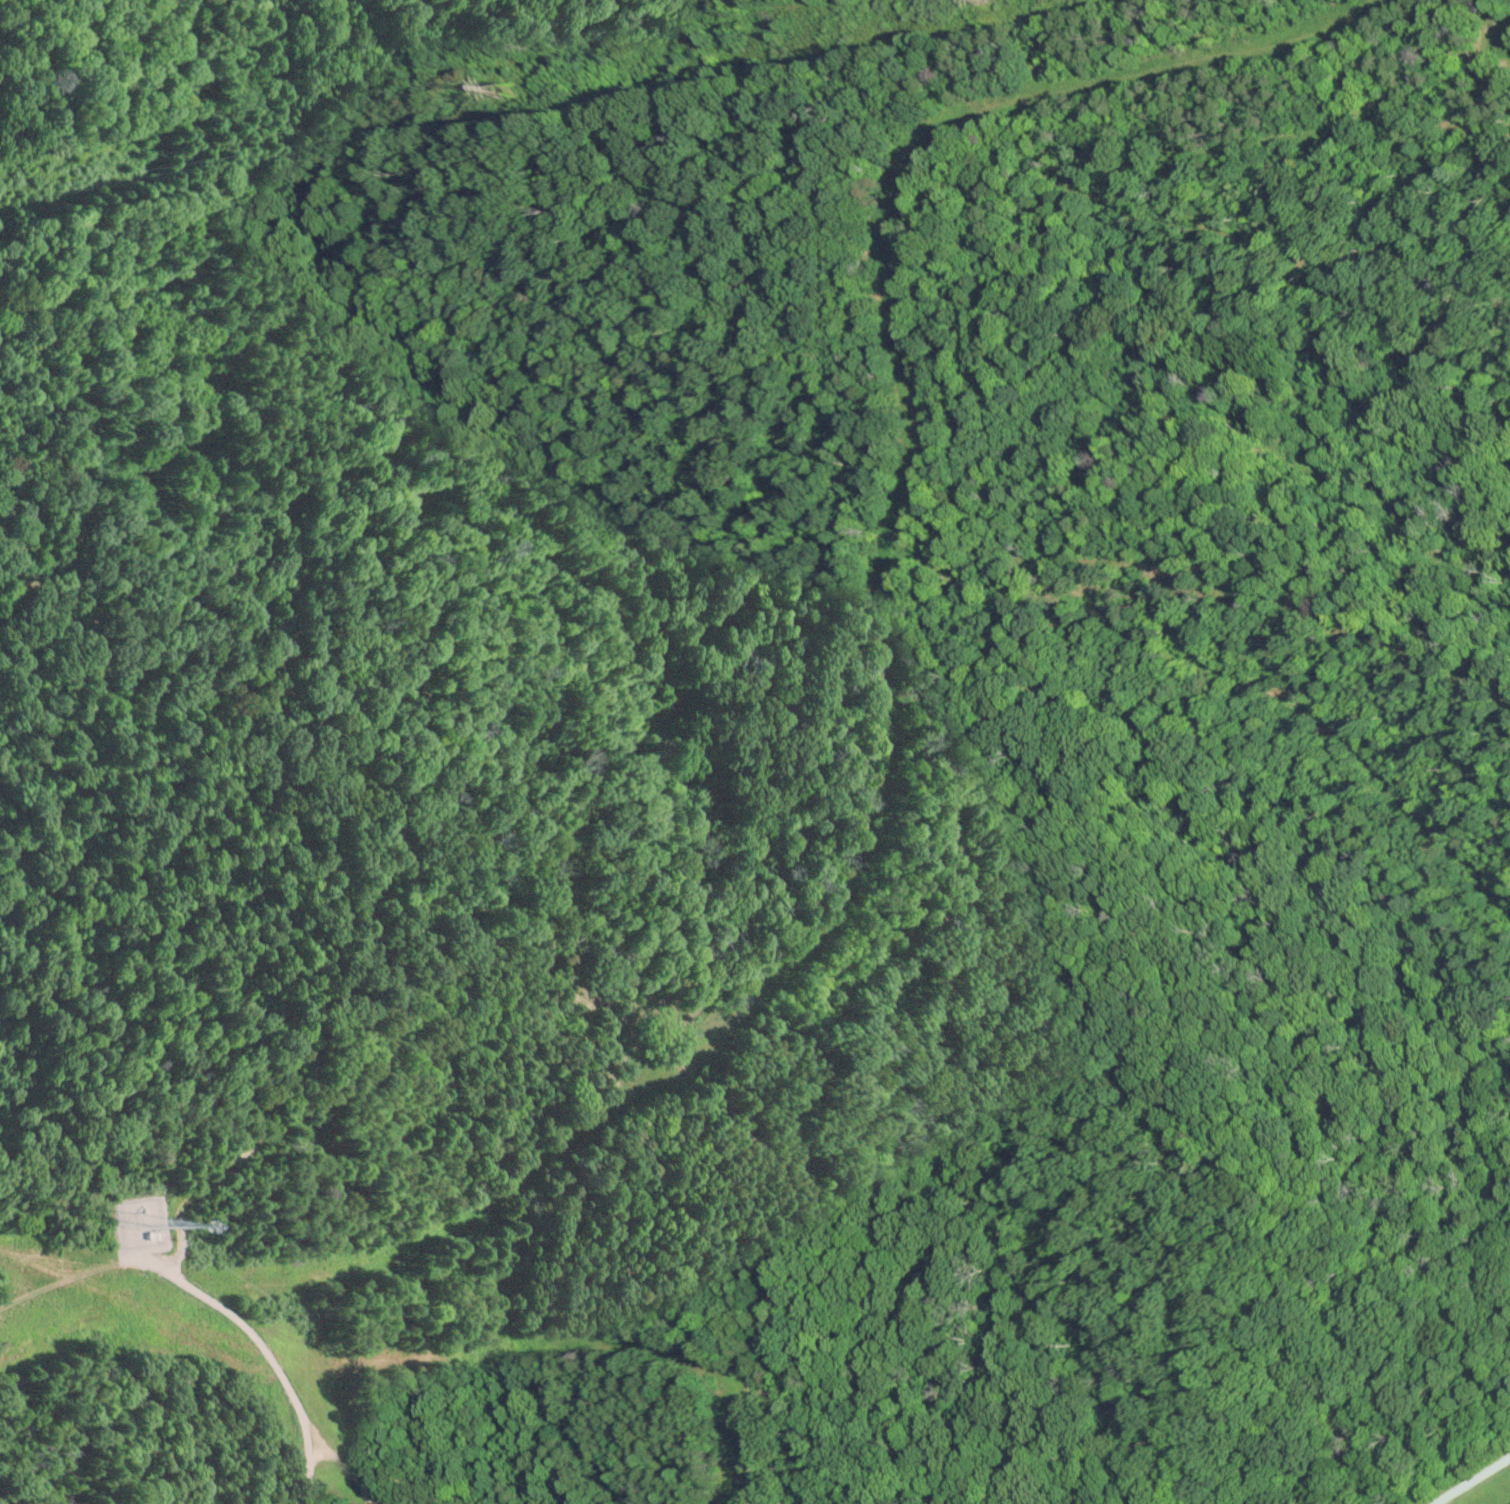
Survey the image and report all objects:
power tower: (501, 94)

